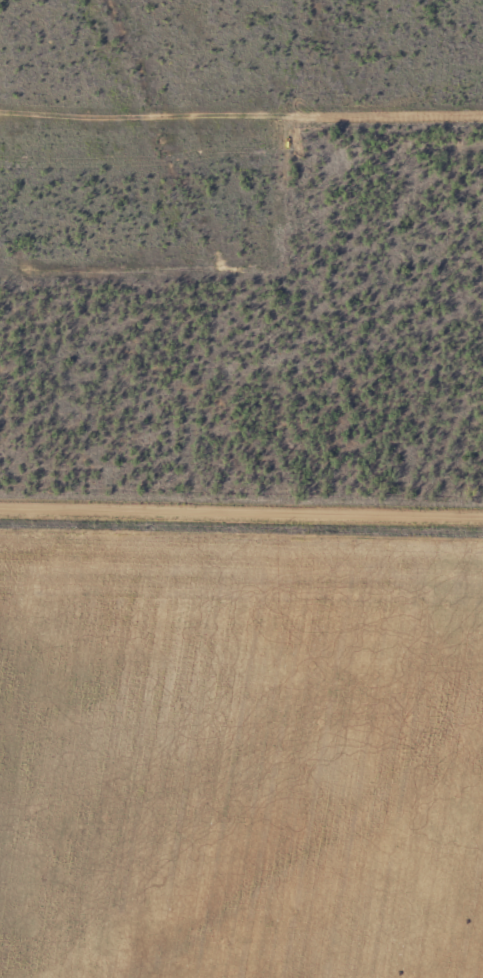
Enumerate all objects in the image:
road: (241, 520)

